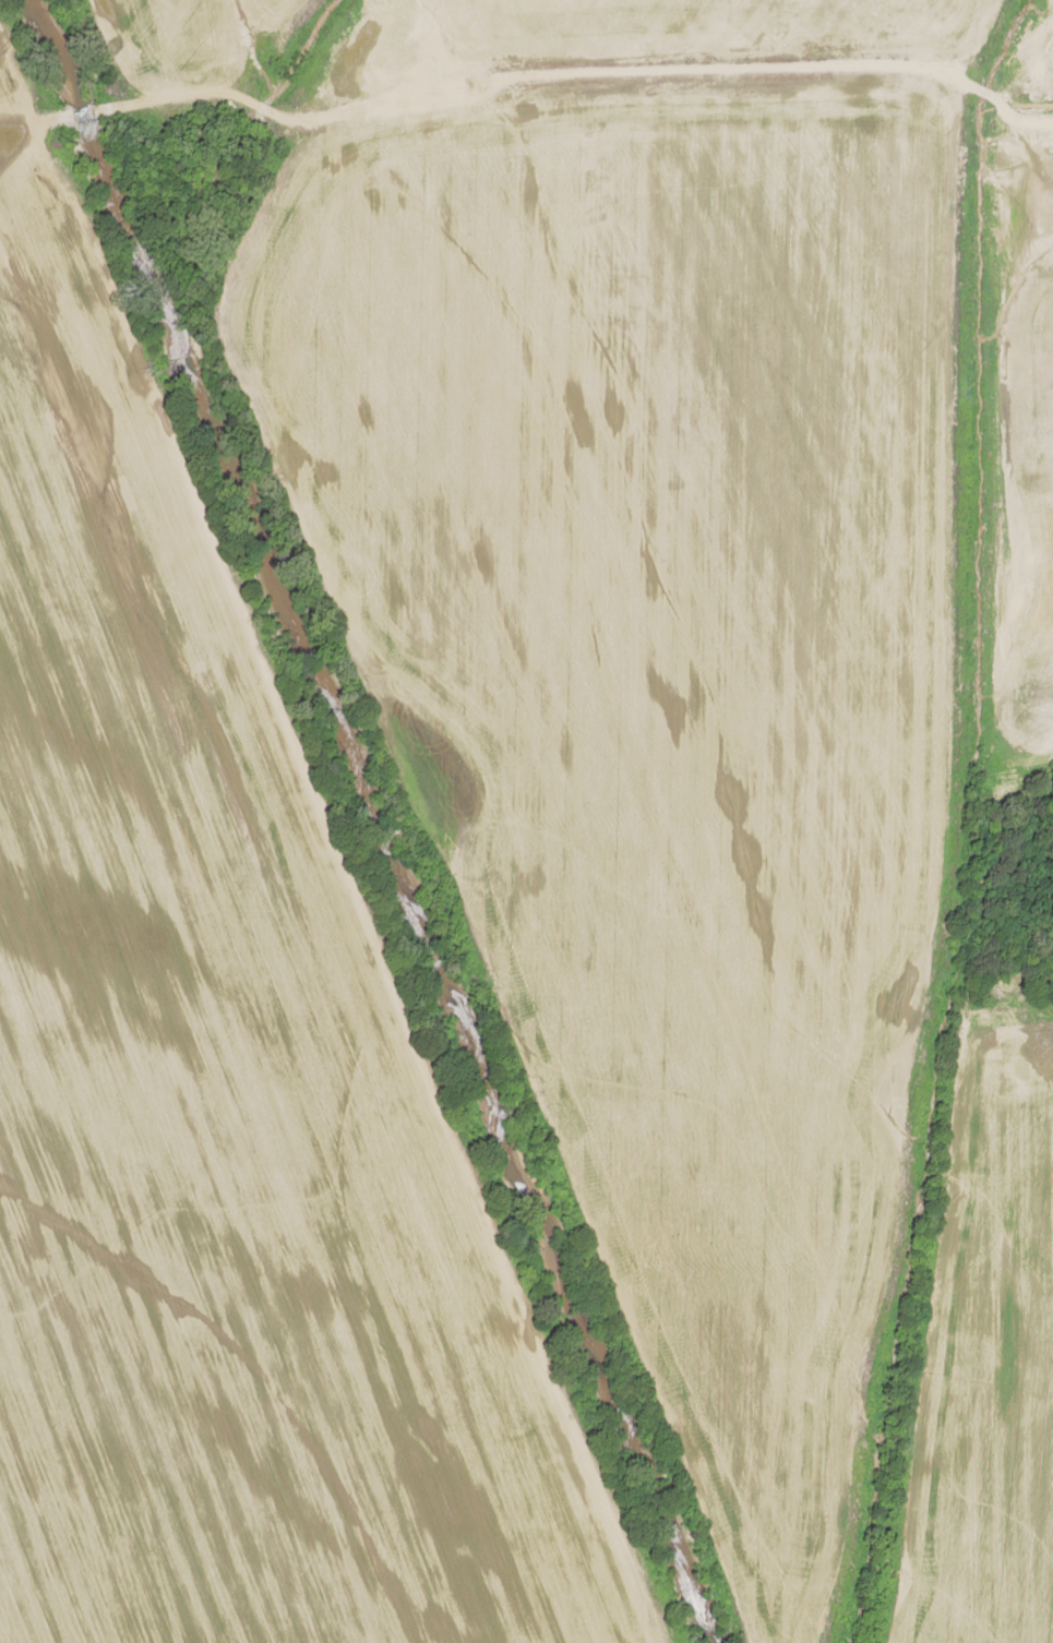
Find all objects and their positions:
road: (343, 98)
river: (381, 820)

